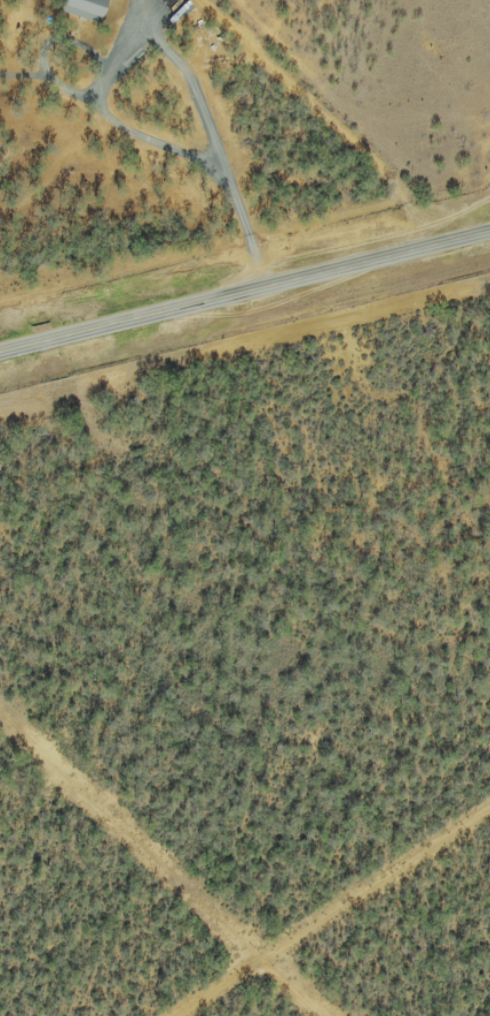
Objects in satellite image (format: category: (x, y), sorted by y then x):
road: (358, 113)
road: (244, 291)

